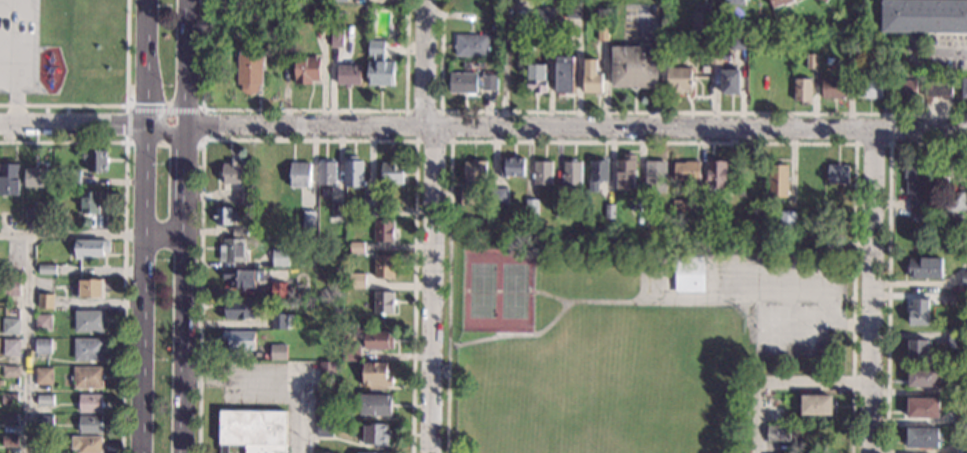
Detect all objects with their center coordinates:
building: (339, 0)
building: (273, 1)
building: (823, 1)
building: (734, 2)
building: (779, 2)
park: (20, 3)
building: (573, 9)
building: (488, 14)
building: (319, 15)
building: (544, 15)
building: (924, 16)
building: (701, 19)
building: (602, 32)
building: (545, 34)
building: (336, 38)
building: (737, 41)
building: (913, 43)
building: (471, 44)
building: (881, 44)
road: (952, 52)
building: (715, 56)
building: (811, 61)
road: (148, 62)
road: (187, 63)
building: (379, 65)
building: (634, 66)
building: (307, 69)
building: (249, 70)
building: (563, 74)
building: (348, 75)
building: (592, 77)
building: (536, 78)
building: (678, 79)
building: (730, 81)
building: (471, 82)
building: (964, 87)
building: (833, 88)
building: (904, 88)
building: (938, 88)
building: (801, 89)
building: (868, 89)
road: (115, 104)
road: (146, 105)
road: (304, 109)
road: (647, 111)
road: (73, 125)
road: (167, 126)
road: (577, 126)
road: (179, 140)
road: (308, 140)
road: (450, 141)
road: (651, 142)
road: (856, 144)
building: (96, 160)
building: (511, 166)
building: (686, 170)
building: (232, 172)
building: (326, 172)
building: (353, 172)
building: (392, 172)
building: (542, 172)
building: (572, 172)
building: (626, 172)
building: (717, 173)
building: (838, 173)
building: (299, 174)
building: (597, 174)
building: (35, 175)
building: (655, 176)
building: (72, 178)
building: (10, 179)
building: (471, 180)
building: (778, 180)
road: (146, 182)
road: (185, 183)
building: (914, 187)
building: (242, 196)
building: (499, 196)
building: (954, 201)
building: (90, 203)
building: (680, 205)
building: (369, 207)
building: (531, 207)
building: (561, 208)
building: (54, 210)
building: (338, 210)
building: (609, 211)
building: (224, 215)
building: (33, 216)
building: (46, 219)
building: (309, 219)
building: (786, 219)
building: (713, 222)
road: (433, 225)
building: (384, 231)
building: (239, 232)
road: (124, 235)
road: (73, 237)
road: (165, 240)
building: (833, 241)
building: (357, 247)
building: (90, 249)
building: (232, 250)
building: (280, 258)
road: (888, 260)
building: (384, 267)
building: (924, 267)
building: (47, 269)
building: (688, 274)
building: (242, 277)
building: (964, 278)
building: (357, 280)
building: (10, 287)
building: (89, 289)
building: (279, 290)
park: (482, 290)
park: (514, 291)
road: (872, 291)
road: (553, 296)
building: (46, 301)
building: (383, 302)
road: (643, 302)
building: (265, 305)
building: (240, 309)
building: (918, 312)
building: (89, 321)
building: (282, 321)
building: (42, 322)
building: (10, 326)
park: (774, 330)
park: (808, 330)
building: (954, 337)
building: (238, 339)
building: (378, 339)
road: (29, 345)
building: (42, 345)
road: (144, 346)
building: (11, 347)
road: (184, 347)
building: (88, 349)
building: (916, 349)
building: (351, 351)
building: (278, 352)
building: (10, 371)
building: (327, 372)
building: (376, 375)
building: (44, 376)
building: (922, 376)
building: (88, 377)
building: (1, 383)
road: (781, 383)
building: (960, 386)
building: (10, 399)
building: (45, 400)
building: (90, 403)
building: (375, 404)
building: (816, 405)
building: (922, 407)
building: (323, 409)
road: (306, 413)
building: (775, 414)
building: (961, 416)
building: (10, 419)
building: (44, 420)
building: (91, 424)
building: (324, 429)
building: (253, 430)
building: (778, 433)
building: (376, 434)
building: (922, 438)
building: (10, 441)
park: (507, 441)
building: (86, 444)
building: (323, 452)

